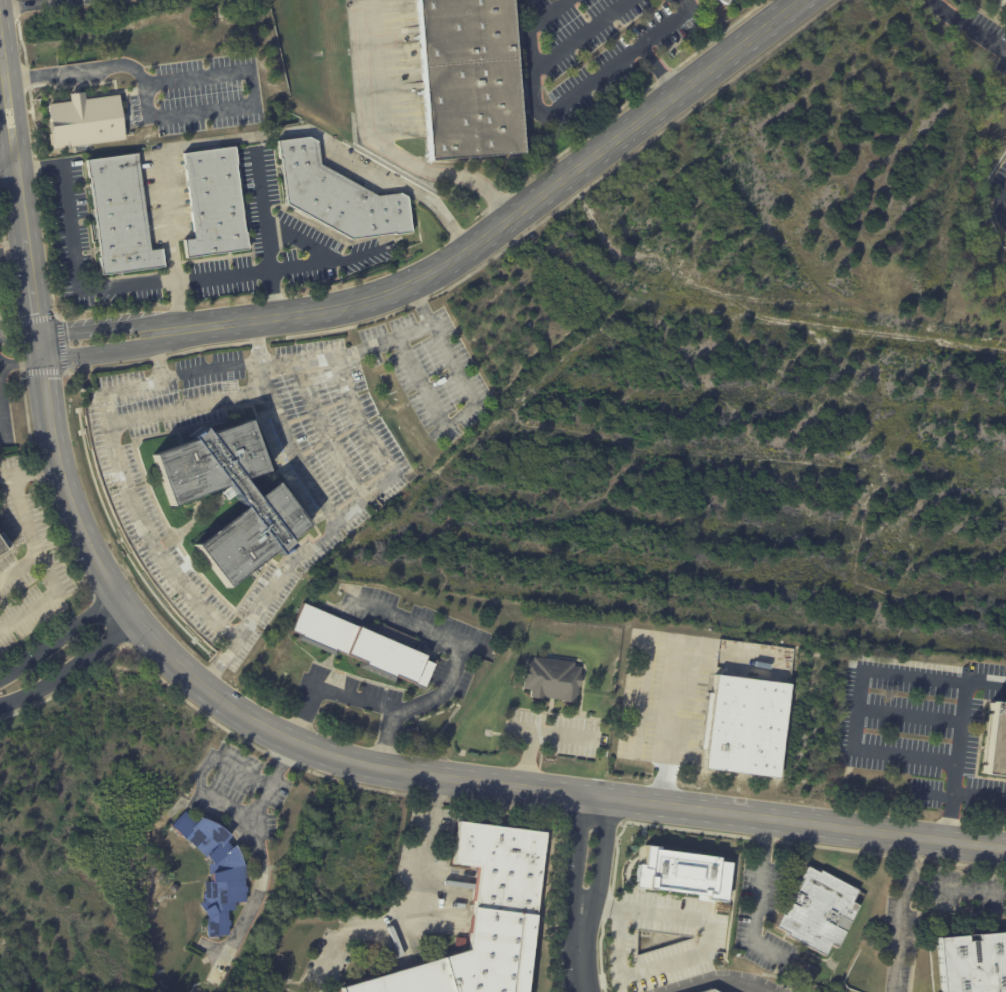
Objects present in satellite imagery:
building: (1005, 0)
building: (724, 1)
road: (26, 4)
road: (968, 25)
road: (576, 32)
road: (657, 68)
road: (66, 72)
building: (470, 78)
road: (567, 96)
road: (7, 99)
road: (242, 107)
building: (86, 119)
road: (244, 138)
road: (388, 150)
road: (7, 160)
road: (16, 165)
road: (39, 167)
building: (339, 194)
building: (215, 202)
road: (1002, 203)
road: (262, 209)
building: (120, 214)
road: (513, 215)
road: (13, 246)
road: (332, 261)
road: (111, 287)
road: (274, 293)
road: (166, 330)
road: (95, 339)
road: (258, 341)
road: (156, 356)
road: (20, 358)
road: (47, 397)
road: (110, 417)
road: (457, 419)
road: (382, 456)
road: (32, 467)
building: (266, 502)
road: (27, 530)
building: (3, 542)
building: (347, 587)
road: (47, 598)
road: (62, 637)
building: (366, 646)
road: (456, 658)
road: (219, 662)
road: (72, 666)
building: (553, 679)
road: (327, 687)
road: (856, 708)
road: (909, 716)
road: (669, 723)
building: (745, 726)
road: (531, 731)
road: (959, 741)
building: (996, 743)
road: (339, 756)
road: (933, 796)
road: (217, 801)
road: (949, 815)
road: (801, 822)
building: (216, 871)
building: (686, 875)
road: (956, 889)
road: (585, 893)
road: (756, 894)
road: (412, 907)
building: (818, 910)
road: (902, 913)
building: (484, 918)
building: (460, 942)
road: (669, 963)
building: (973, 963)
road: (713, 979)
building: (710, 991)

